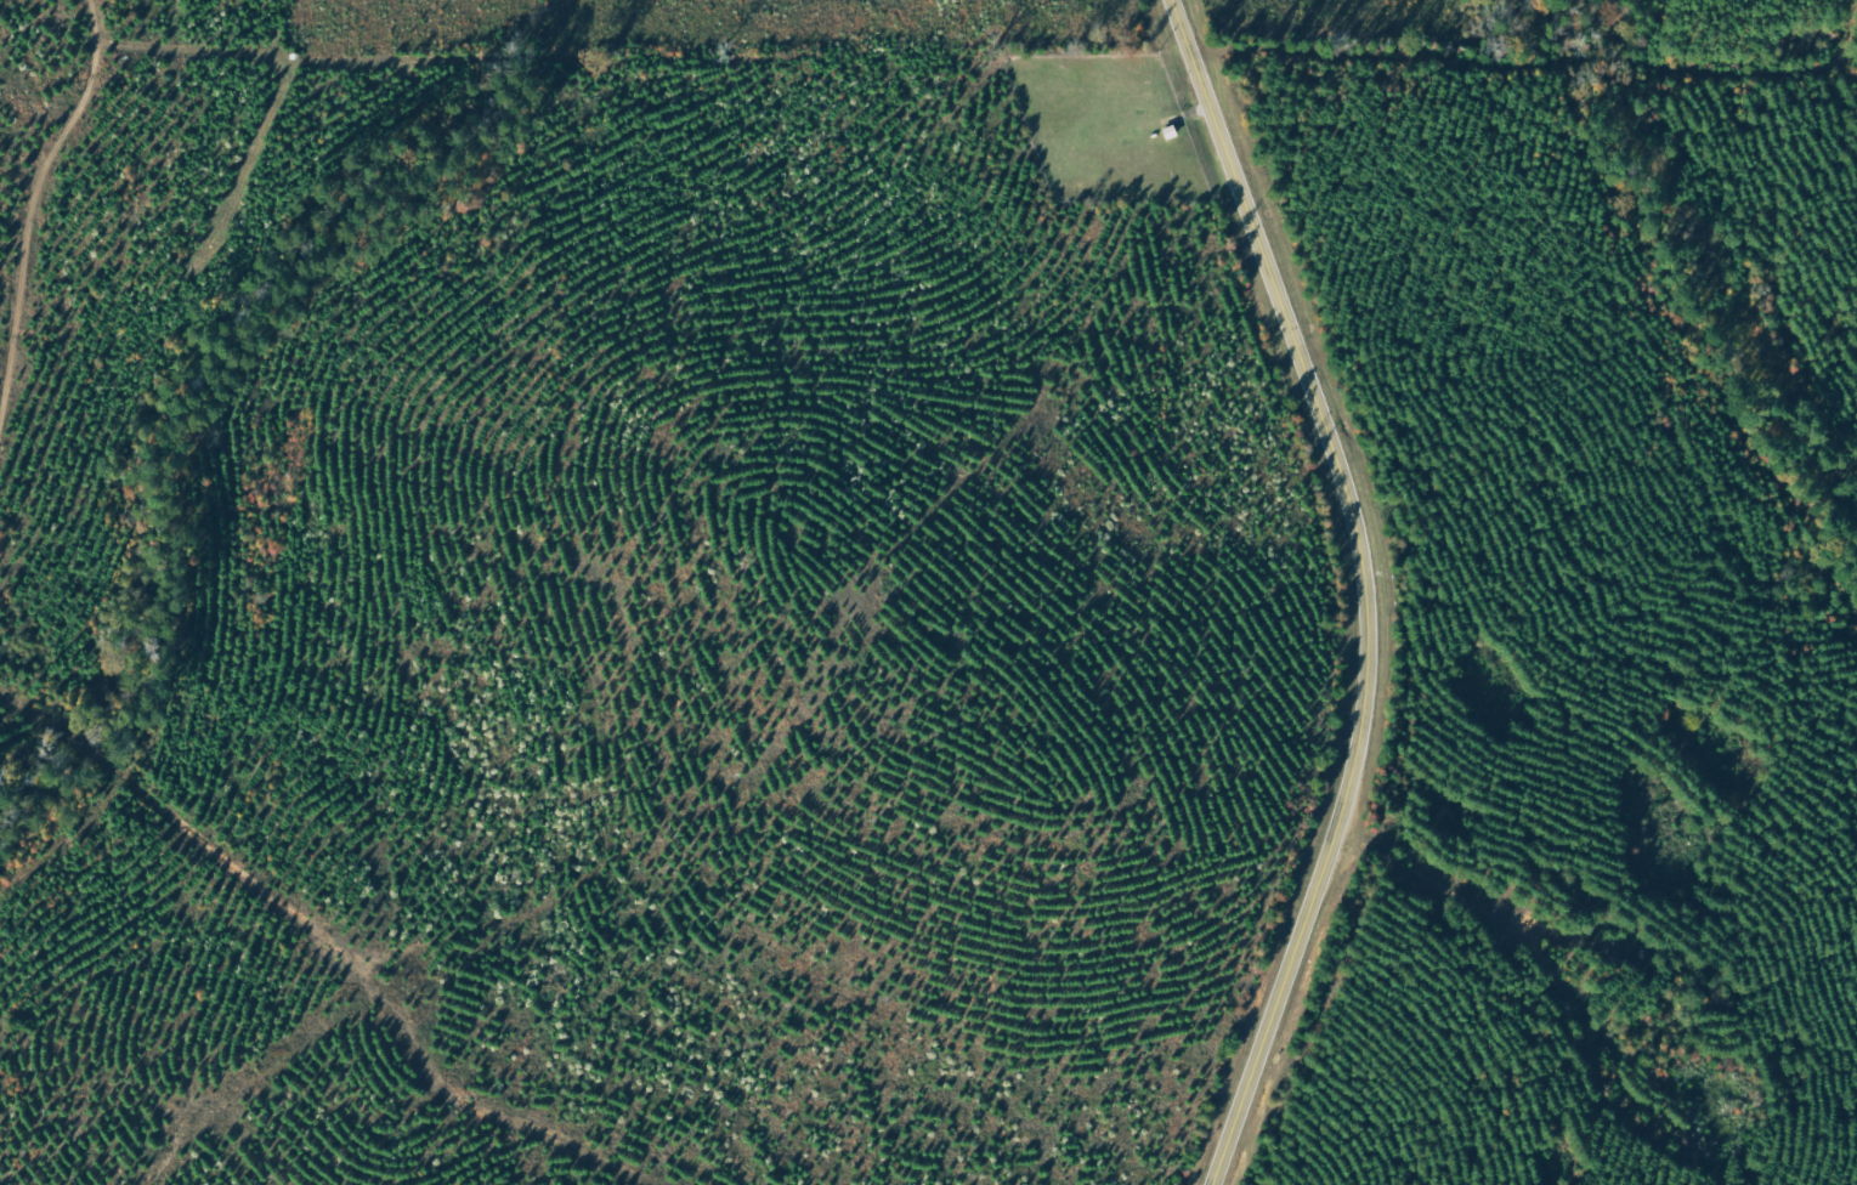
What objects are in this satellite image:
road: (1368, 589)

